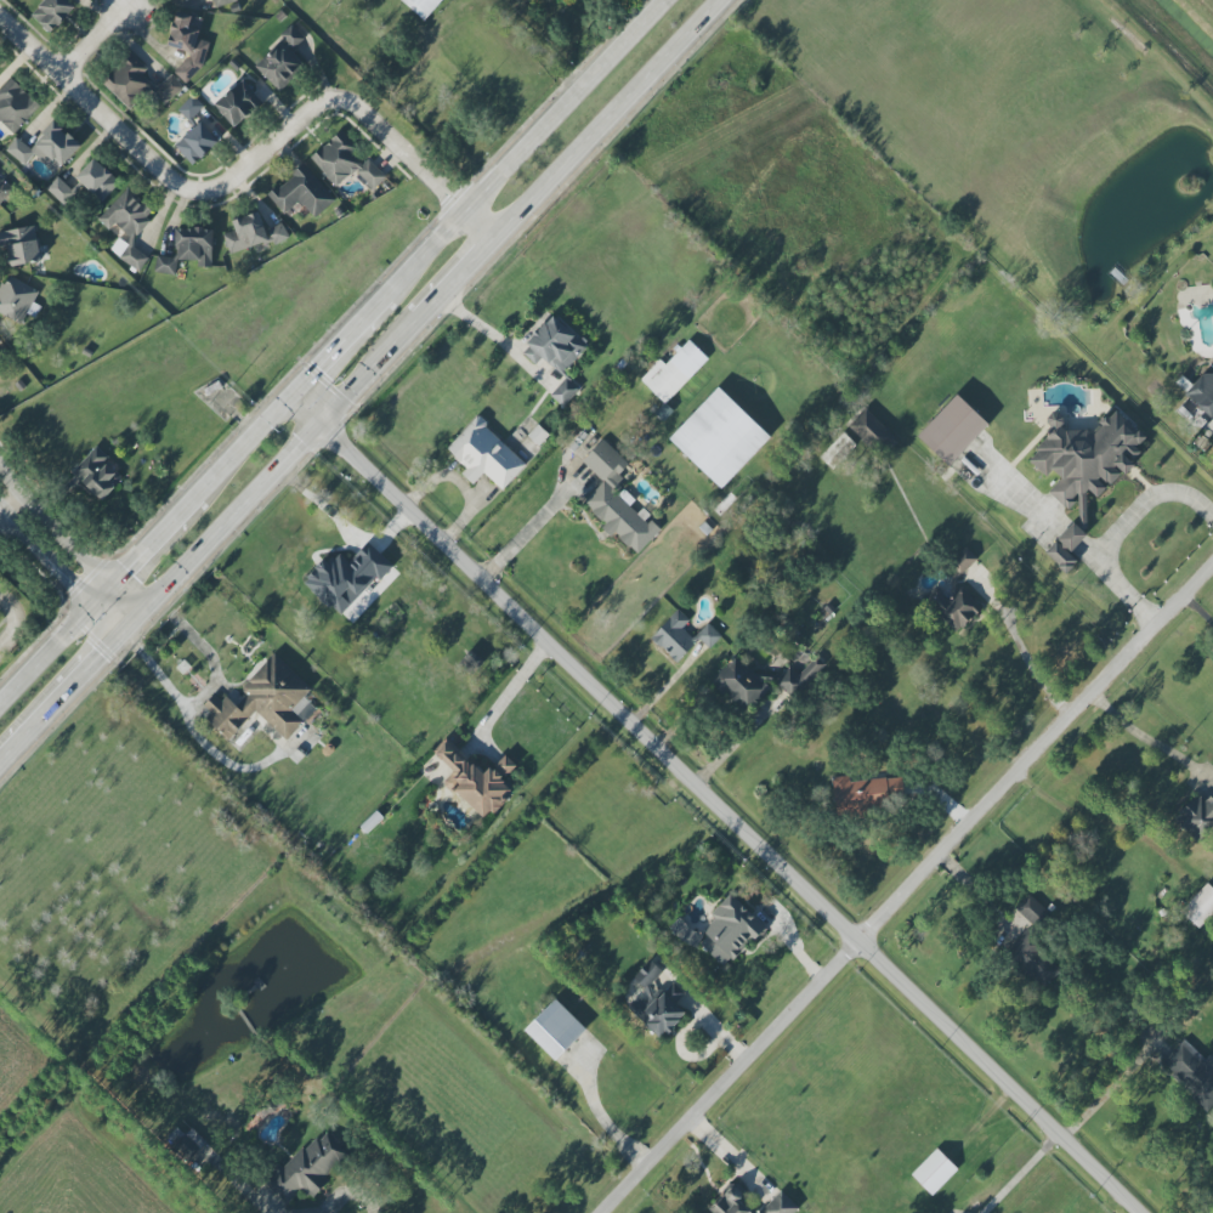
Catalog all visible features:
building: (182, 0)
building: (222, 2)
building: (423, 6)
building: (52, 13)
road: (93, 38)
building: (187, 44)
building: (280, 61)
building: (137, 83)
building: (238, 103)
building: (15, 106)
building: (191, 108)
road: (612, 119)
building: (195, 143)
building: (46, 147)
building: (345, 161)
road: (249, 164)
building: (97, 180)
building: (5, 188)
building: (59, 191)
building: (301, 193)
building: (126, 225)
building: (251, 233)
building: (21, 245)
building: (188, 250)
road: (458, 280)
building: (15, 297)
road: (497, 338)
building: (0, 341)
building: (554, 346)
road: (335, 351)
building: (674, 372)
building: (563, 392)
building: (1203, 393)
building: (952, 430)
building: (871, 432)
building: (719, 437)
building: (838, 450)
building: (484, 455)
building: (1086, 458)
road: (279, 467)
building: (97, 472)
building: (617, 500)
road: (8, 504)
road: (528, 526)
building: (1071, 537)
road: (1112, 538)
road: (69, 542)
building: (1060, 556)
road: (58, 573)
building: (346, 578)
building: (954, 595)
road: (1201, 611)
road: (15, 620)
road: (131, 623)
building: (681, 636)
road: (1024, 653)
building: (797, 679)
building: (739, 684)
road: (515, 685)
road: (61, 697)
building: (262, 701)
road: (189, 703)
building: (304, 709)
road: (1144, 737)
building: (476, 778)
building: (866, 793)
road: (720, 804)
building: (1197, 816)
road: (908, 894)
road: (982, 895)
building: (1200, 906)
building: (1031, 909)
building: (730, 930)
building: (1032, 962)
building: (647, 974)
building: (659, 1010)
road: (686, 1026)
building: (555, 1030)
building: (1192, 1072)
road: (1115, 1088)
building: (188, 1144)
road: (730, 1156)
building: (306, 1169)
building: (934, 1172)
road: (1022, 1172)
road: (347, 1191)
building: (732, 1200)
building: (780, 1205)

